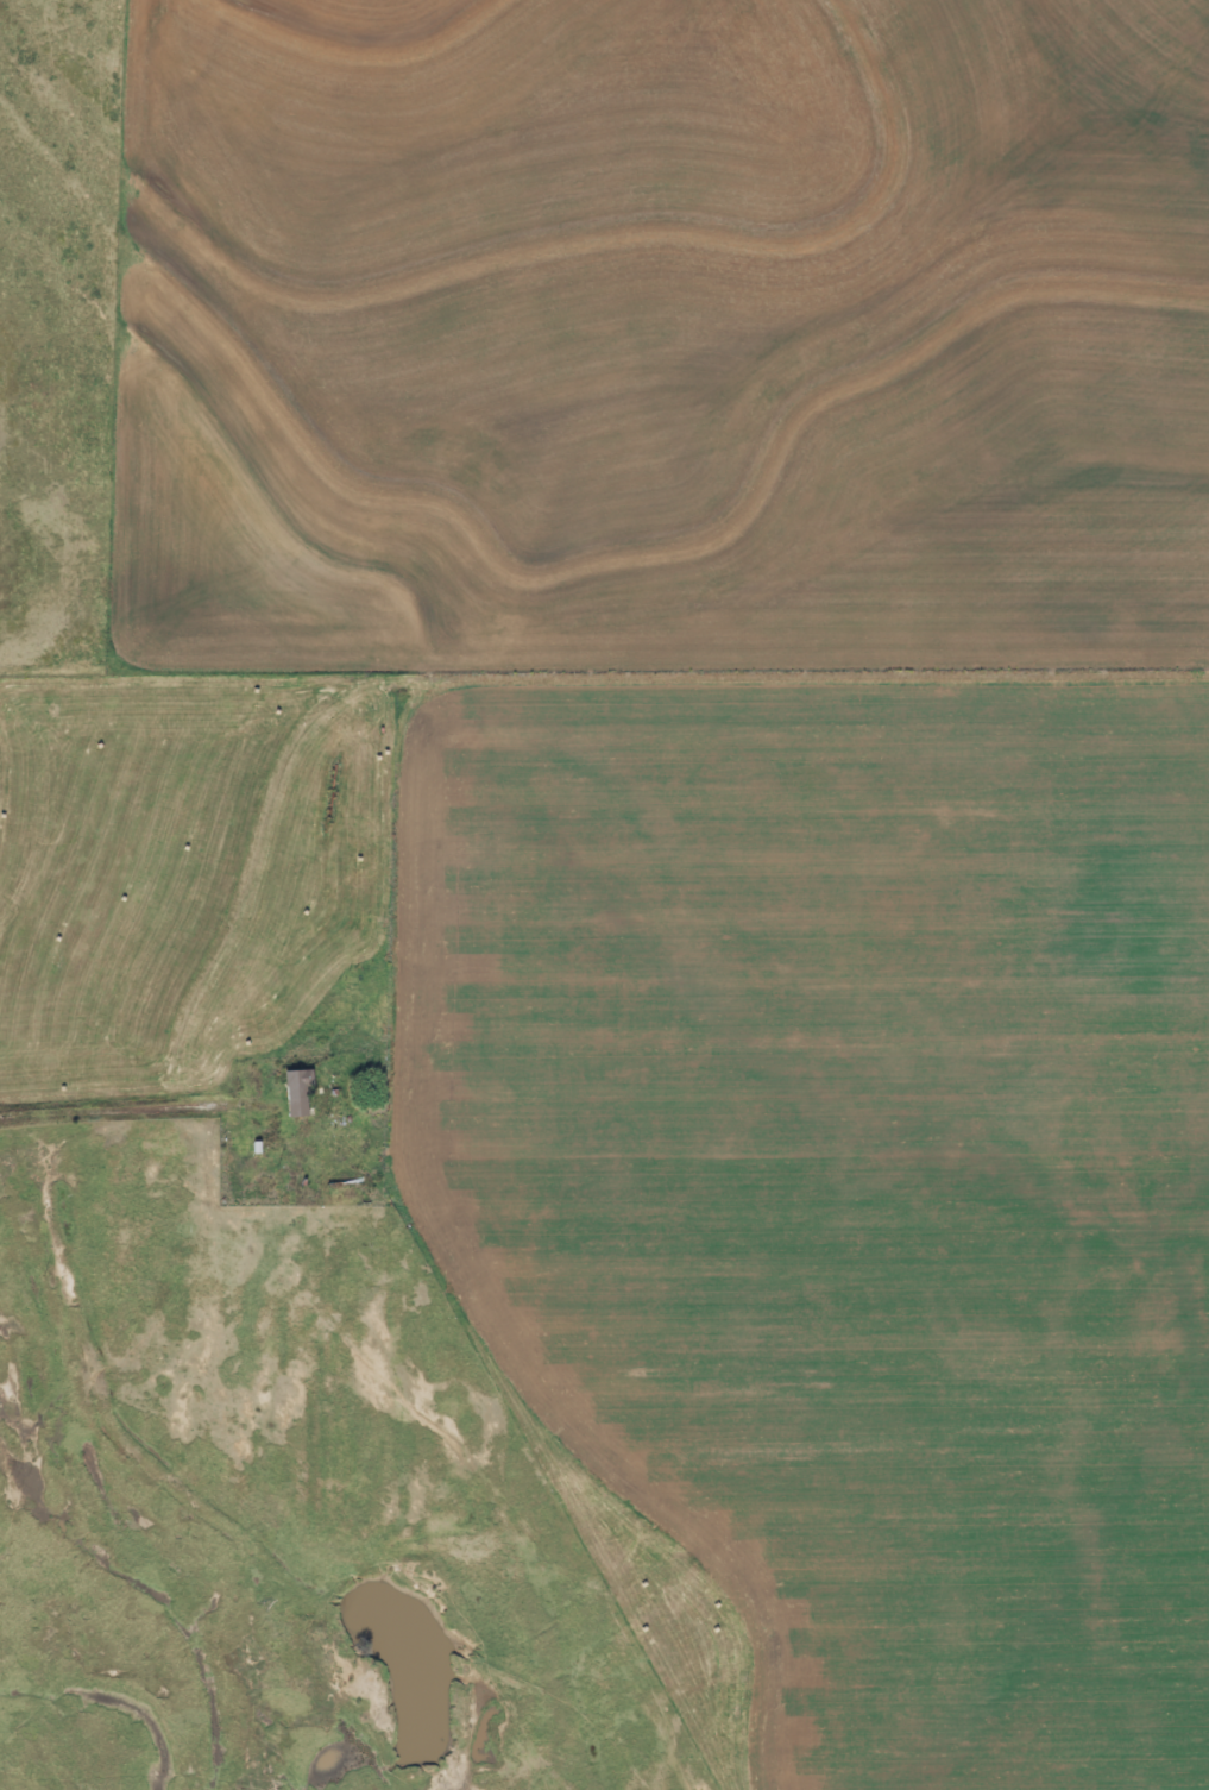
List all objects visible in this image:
building: (297, 1093)
road: (89, 1126)

